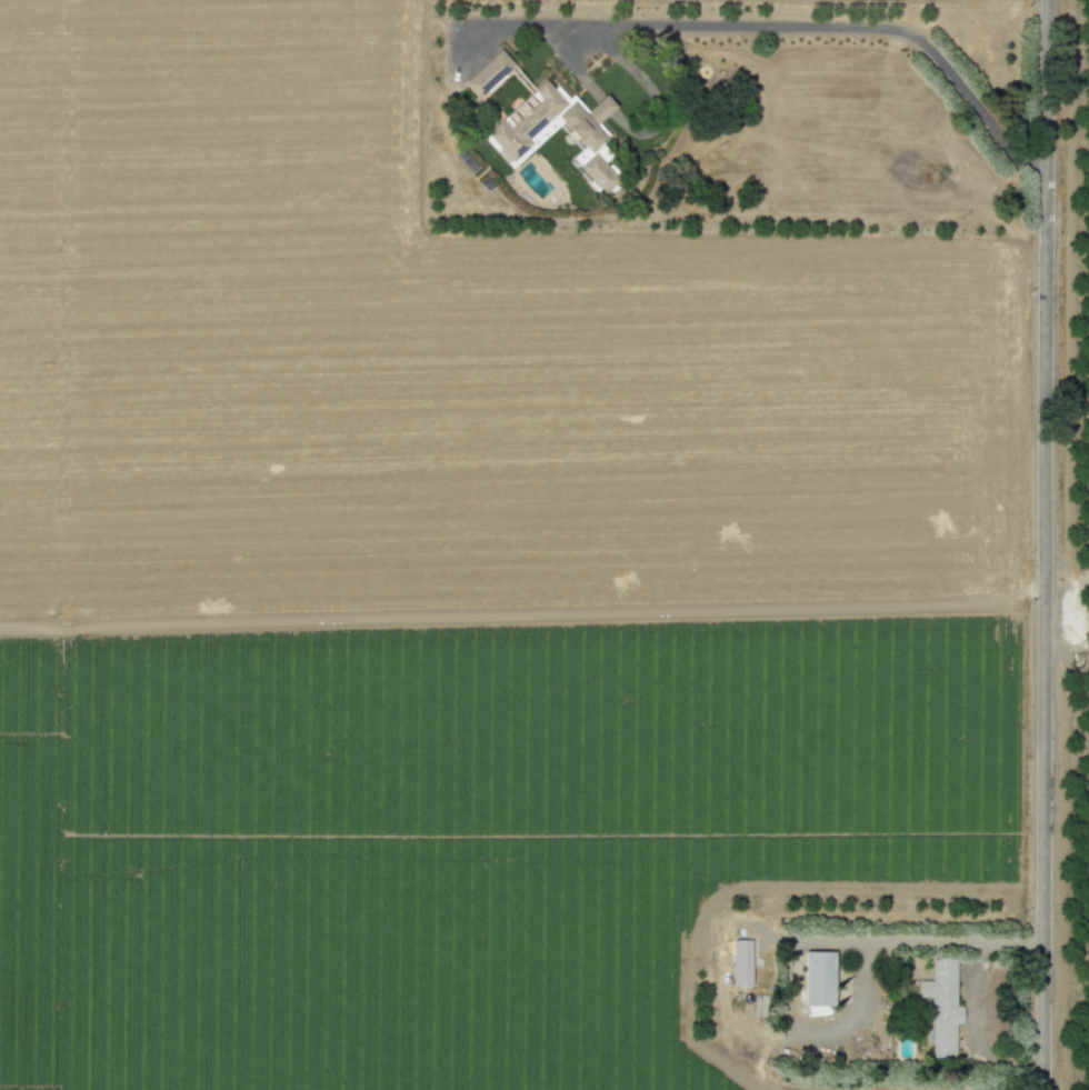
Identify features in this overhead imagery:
road: (782, 29)
building: (488, 73)
building: (514, 129)
road: (638, 131)
road: (1043, 544)
building: (740, 962)
road: (790, 968)
road: (978, 969)
building: (818, 978)
building: (941, 1006)

